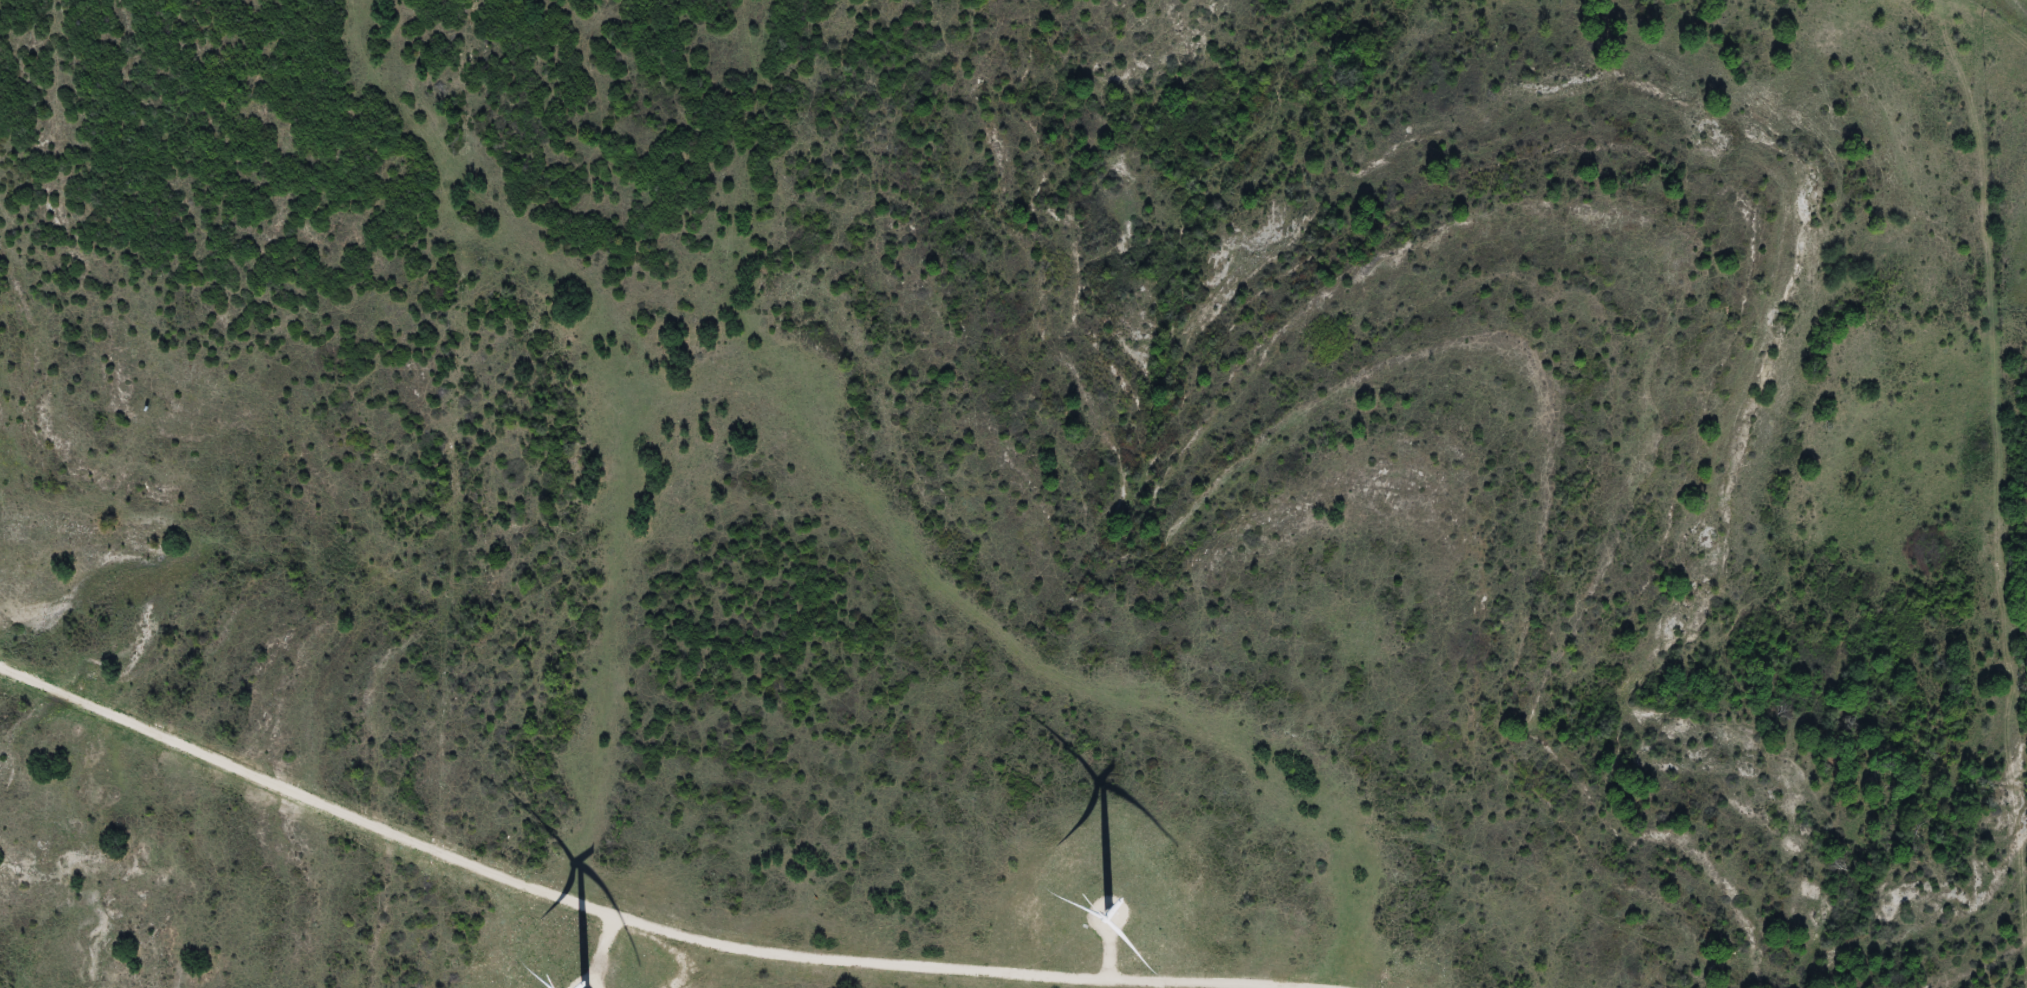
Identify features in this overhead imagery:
wind turbine: (1109, 912)

